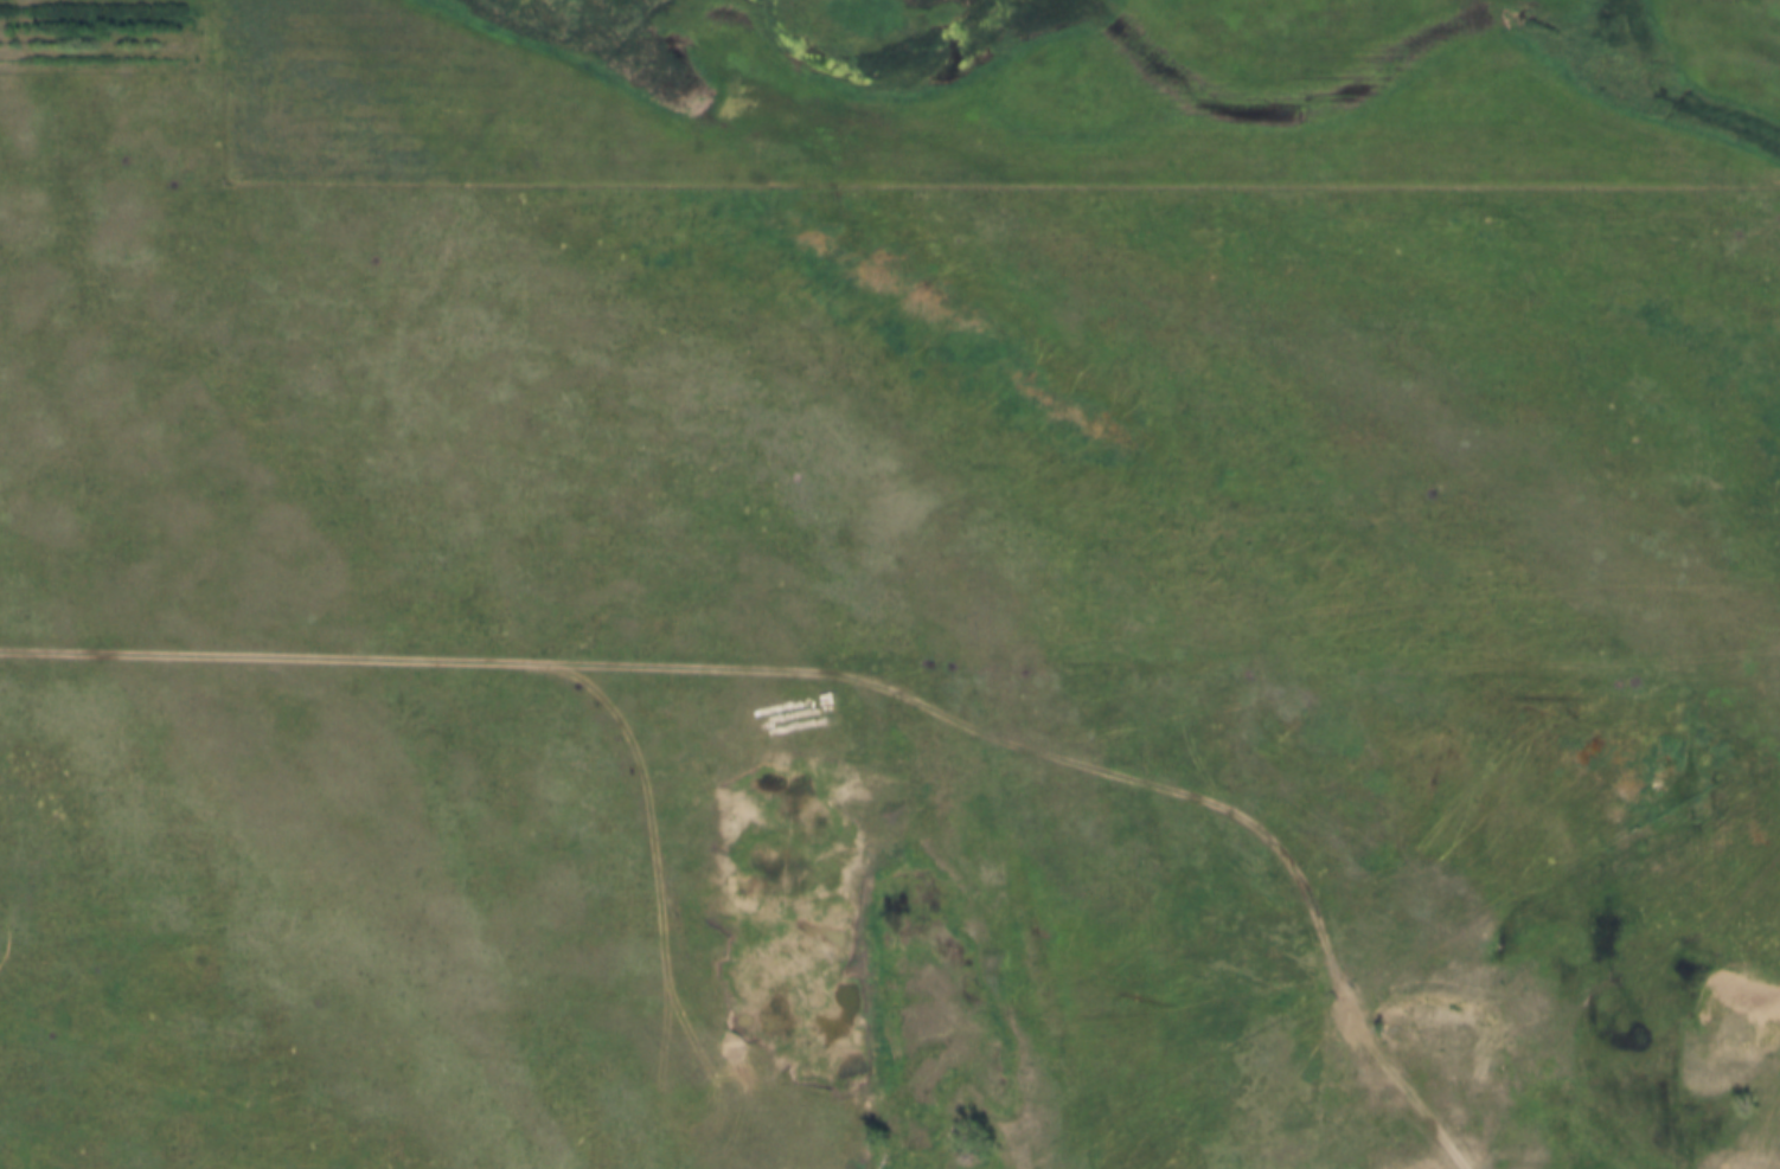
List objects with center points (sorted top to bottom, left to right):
road: (849, 668)
quarry: (1564, 1064)

